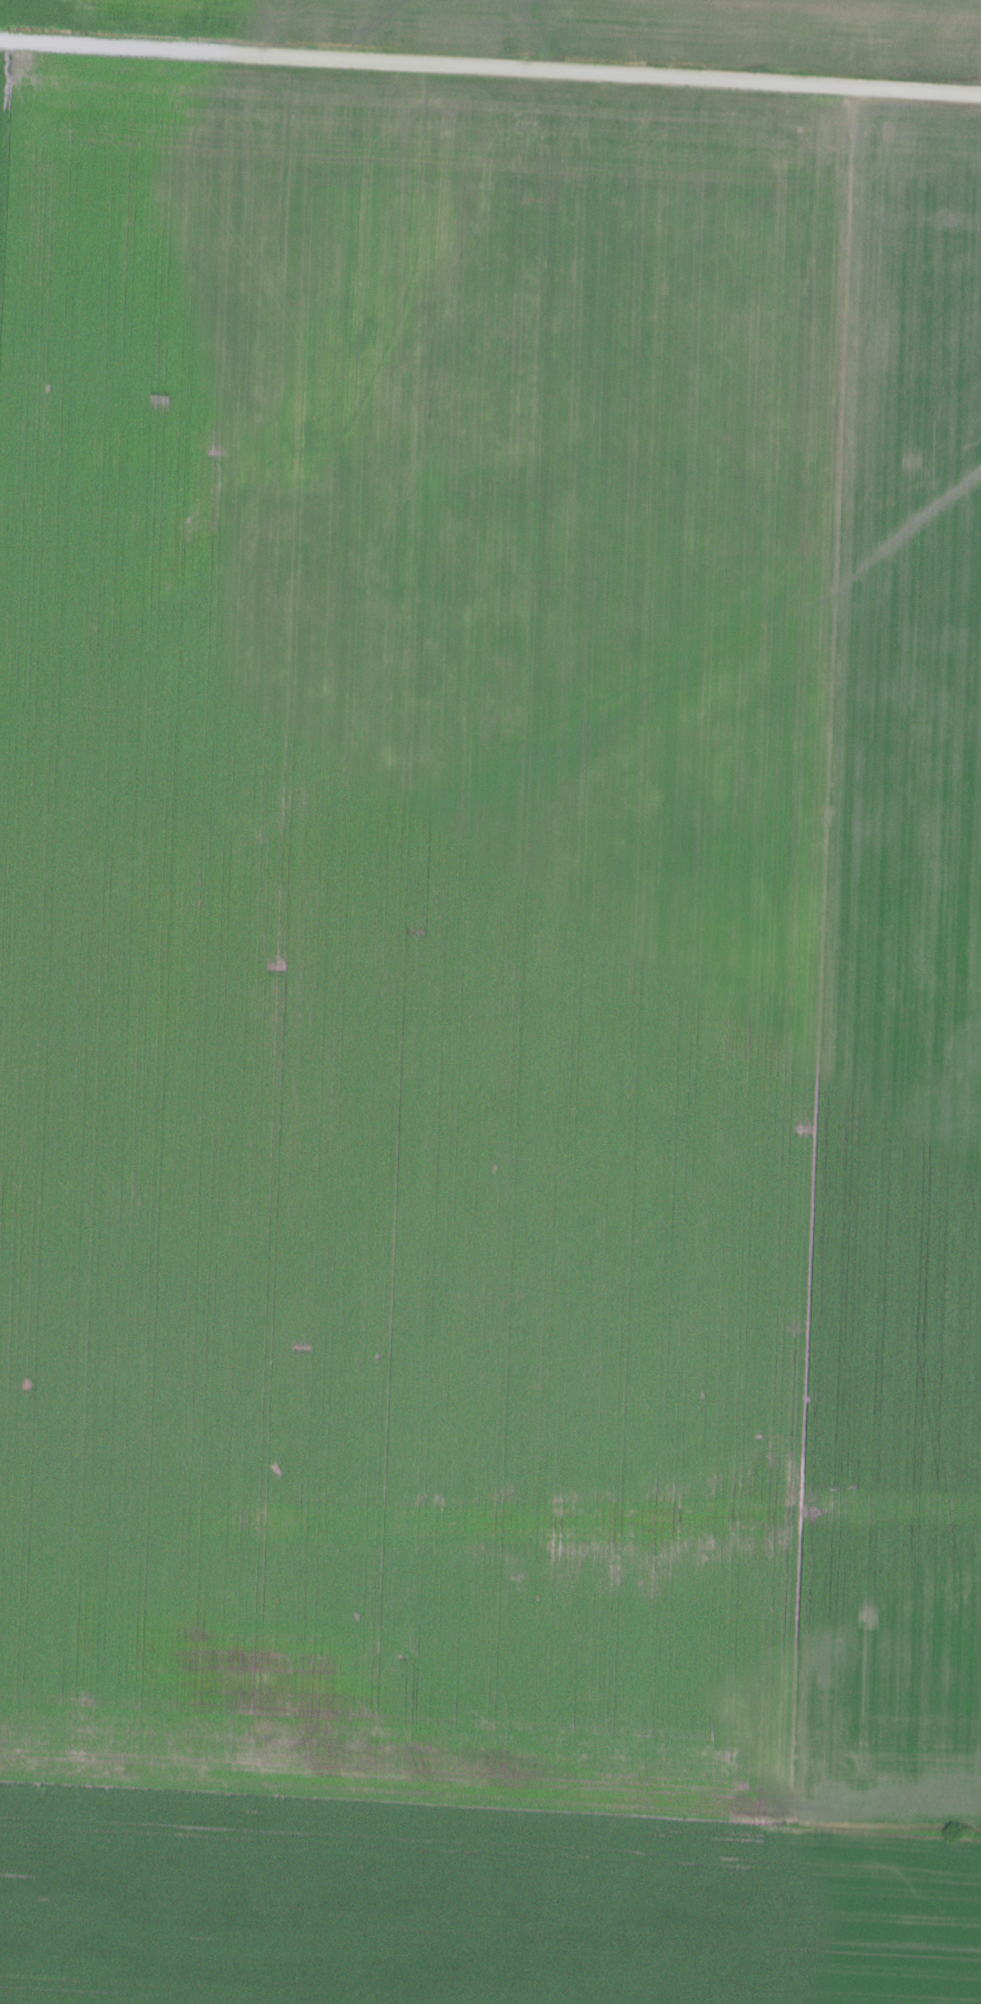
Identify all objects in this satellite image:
road: (490, 65)
road: (490, 1811)

